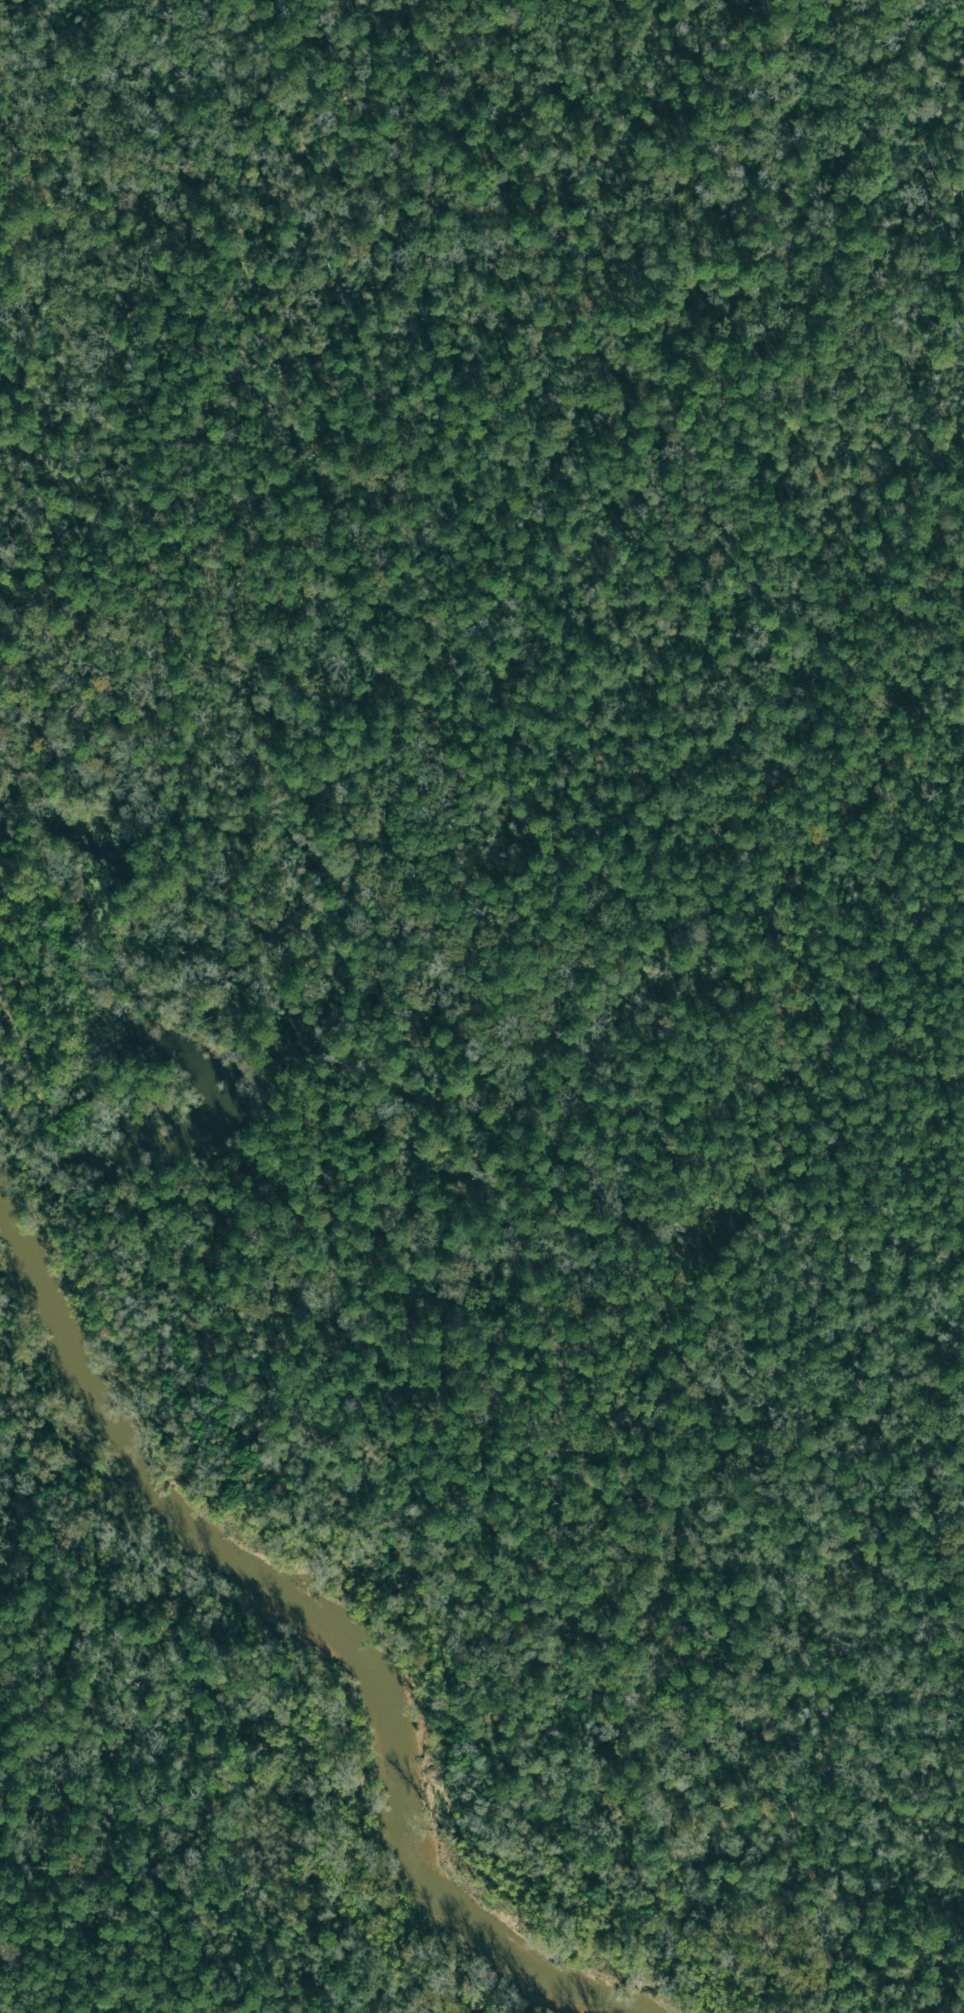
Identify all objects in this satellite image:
river: (342, 1621)

